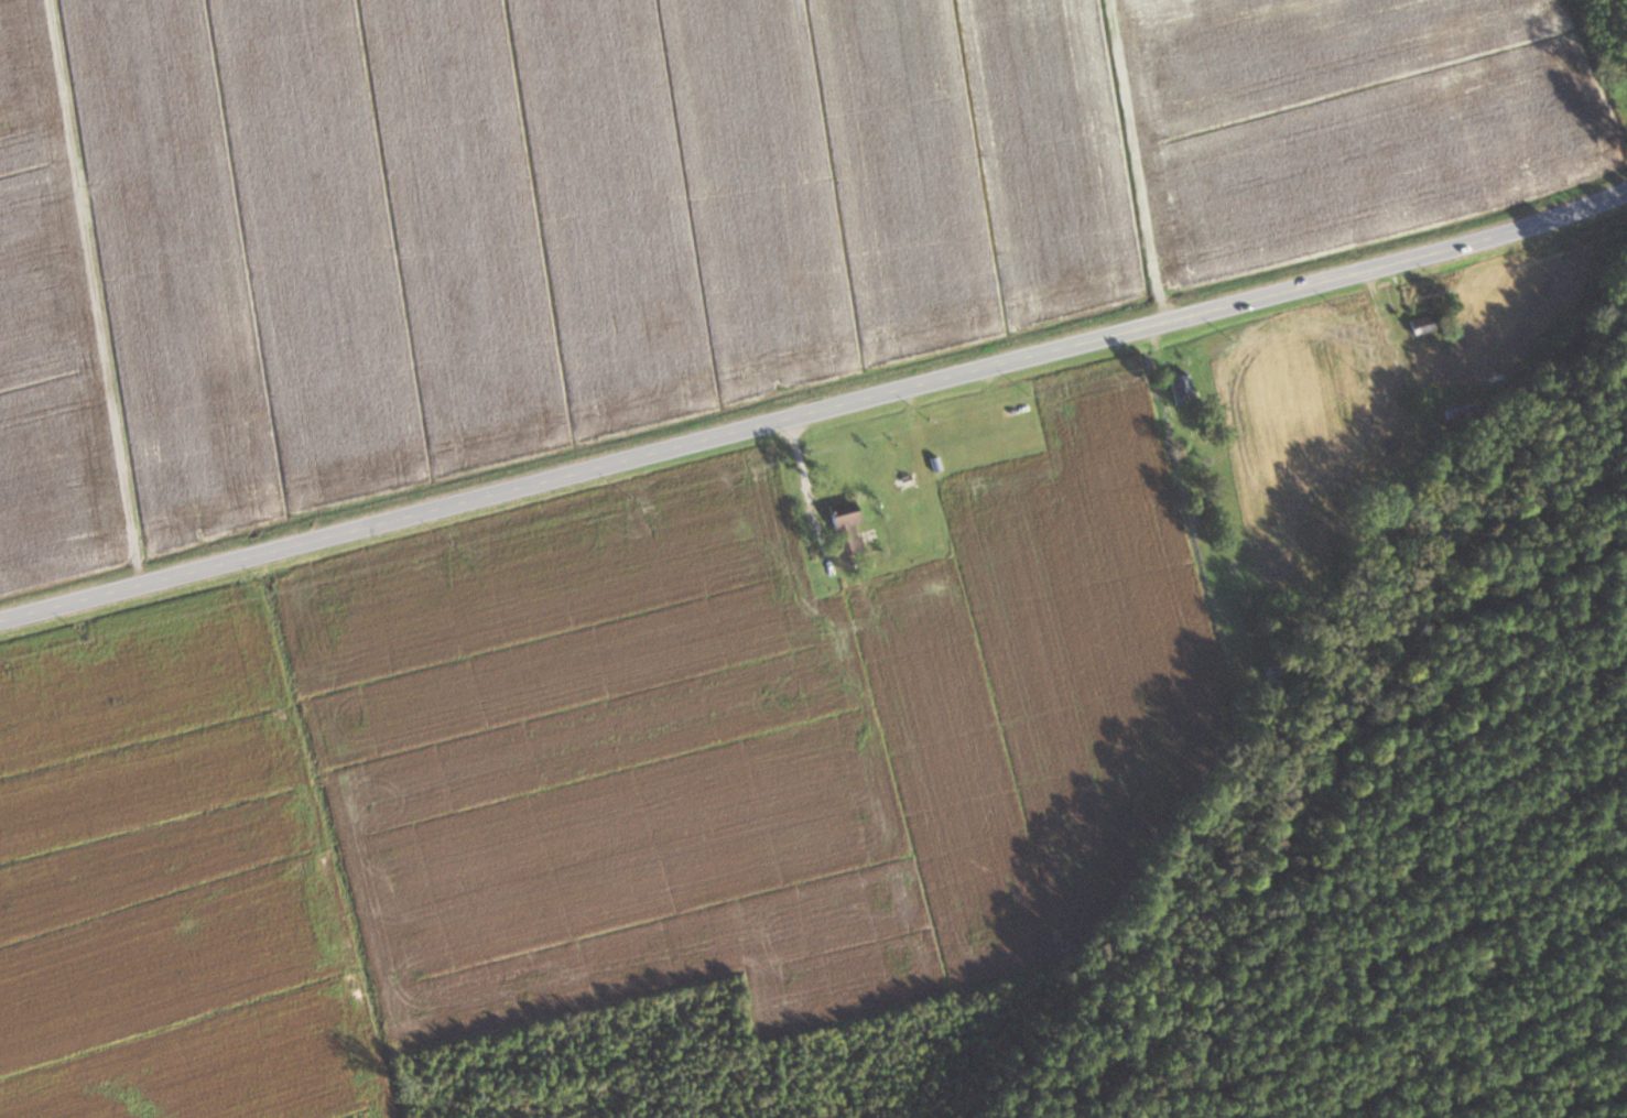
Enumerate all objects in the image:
building: (1420, 324)
building: (1179, 384)
road: (815, 409)
building: (1015, 410)
building: (1460, 410)
building: (911, 514)
building: (839, 523)

